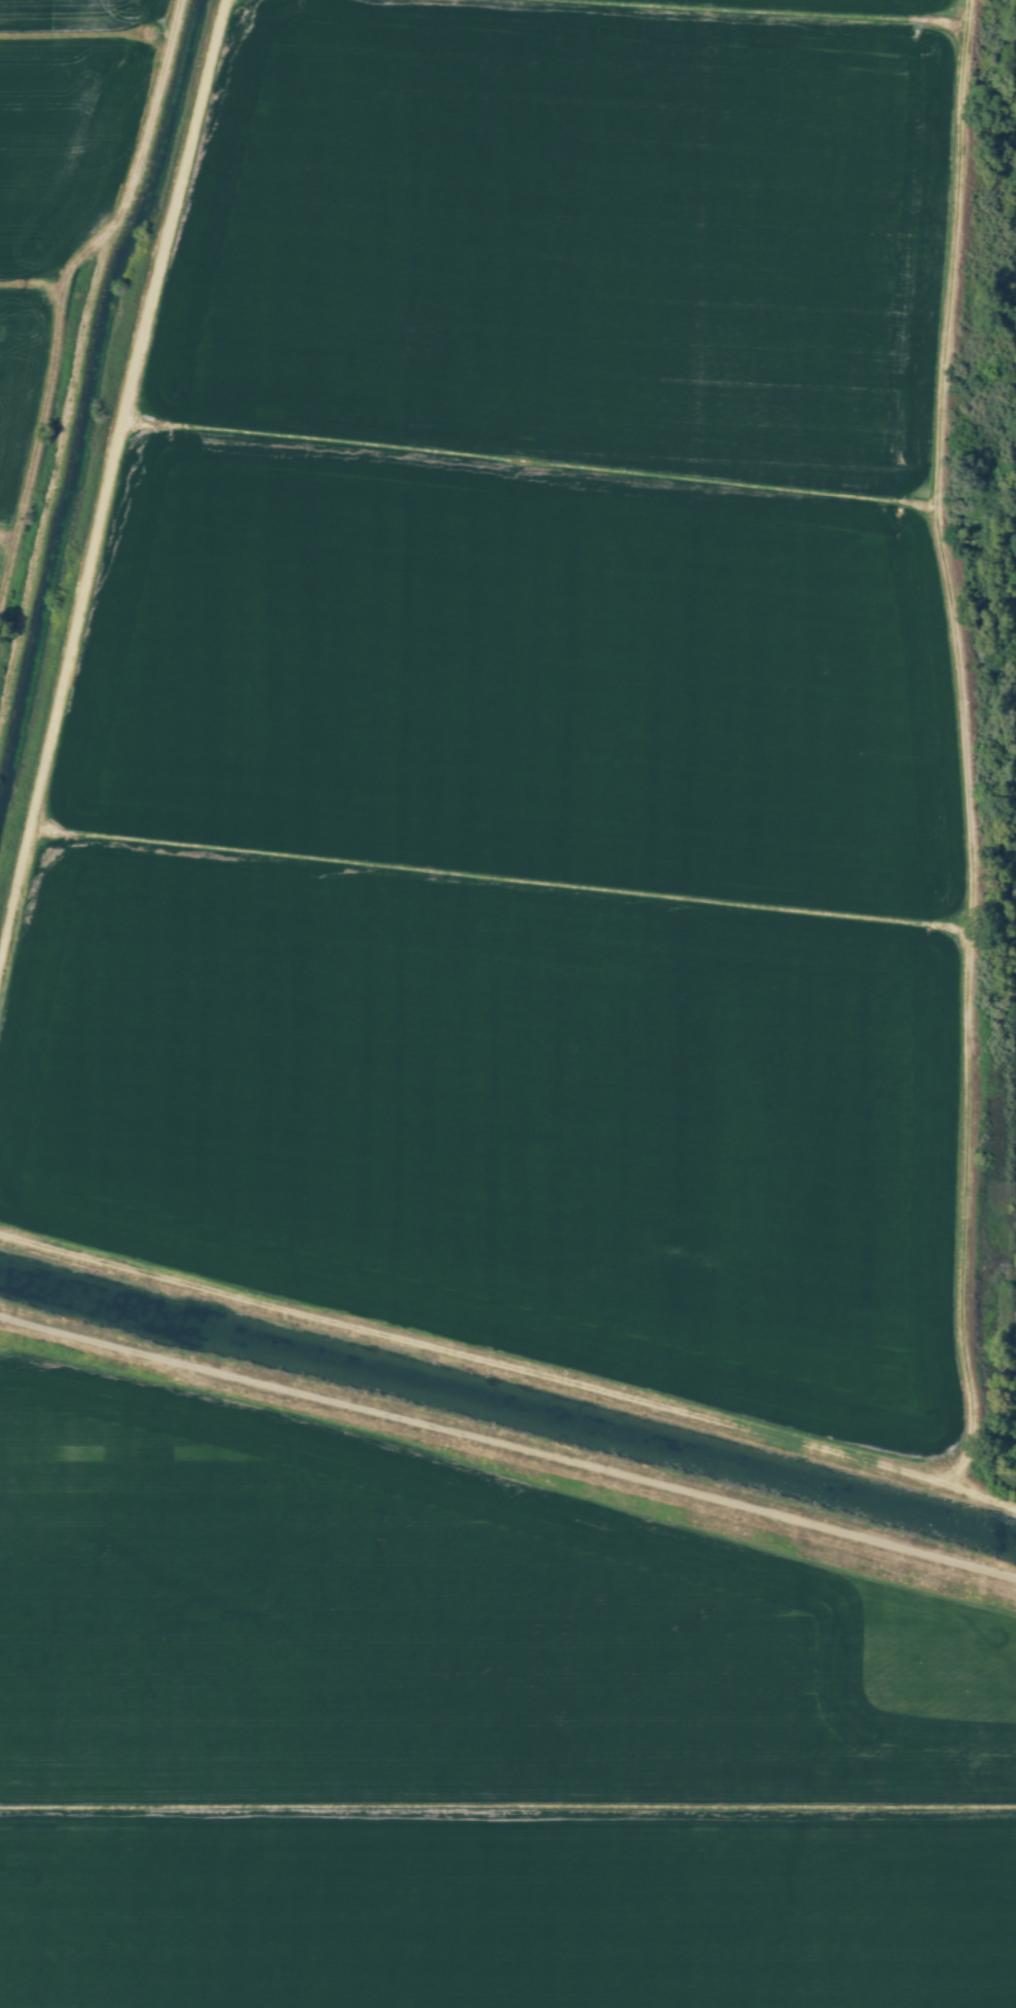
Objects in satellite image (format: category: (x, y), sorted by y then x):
road: (102, 436)

